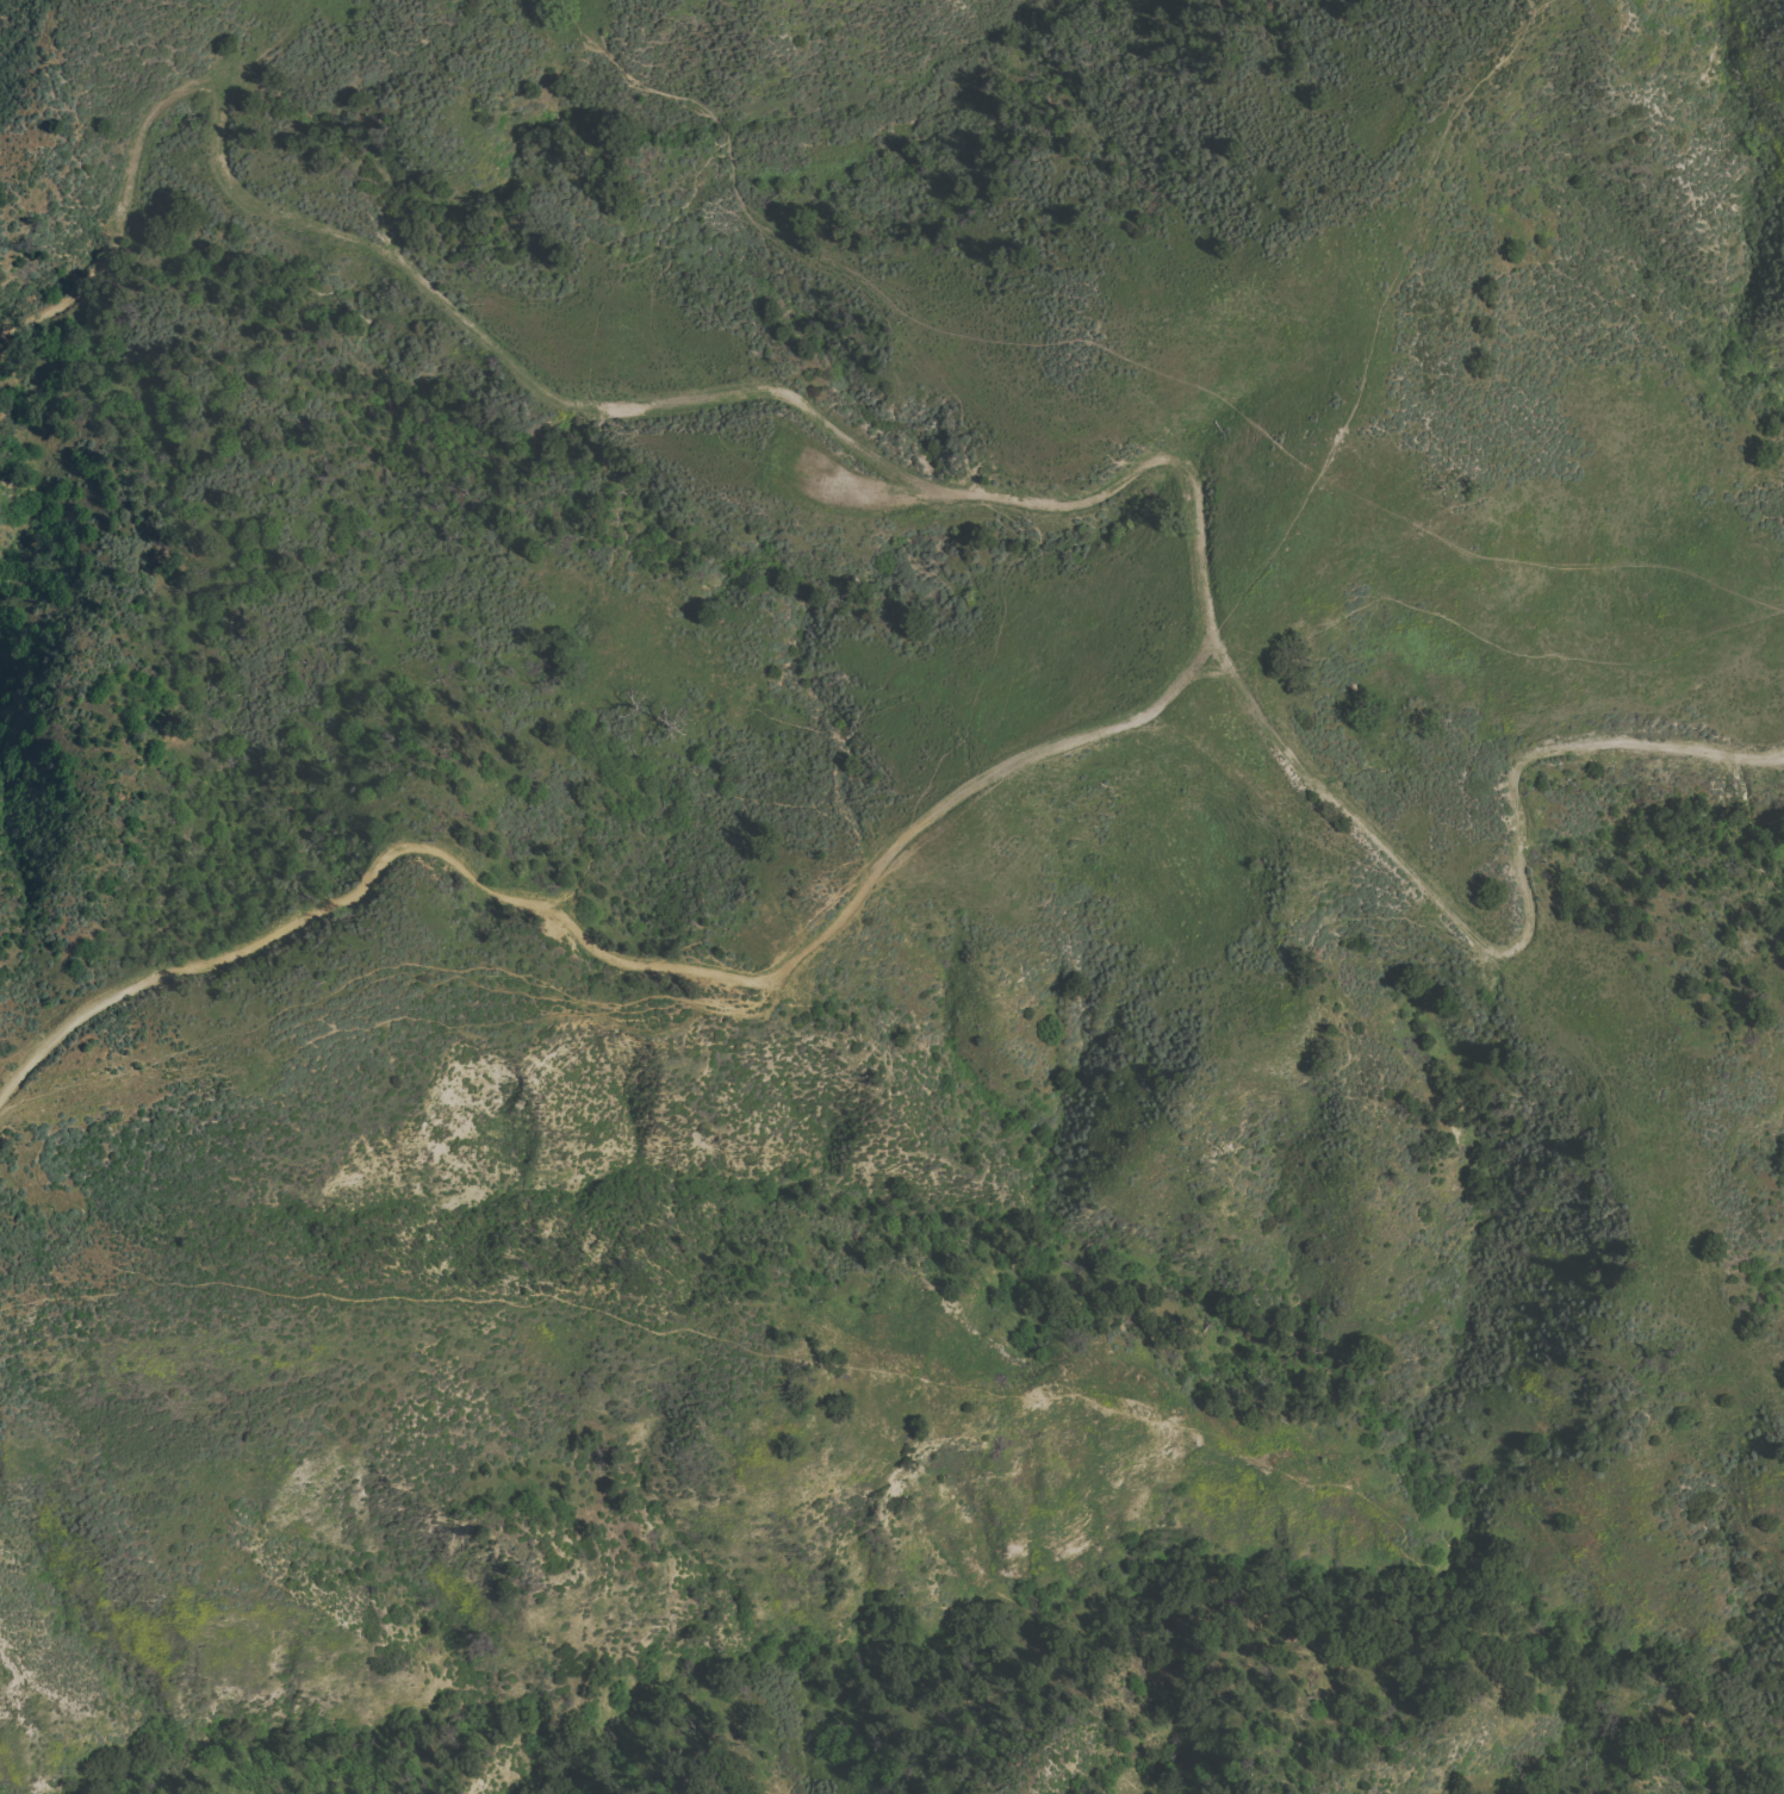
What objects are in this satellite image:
road: (216, 143)
road: (1217, 654)
road: (1206, 672)
road: (604, 958)

